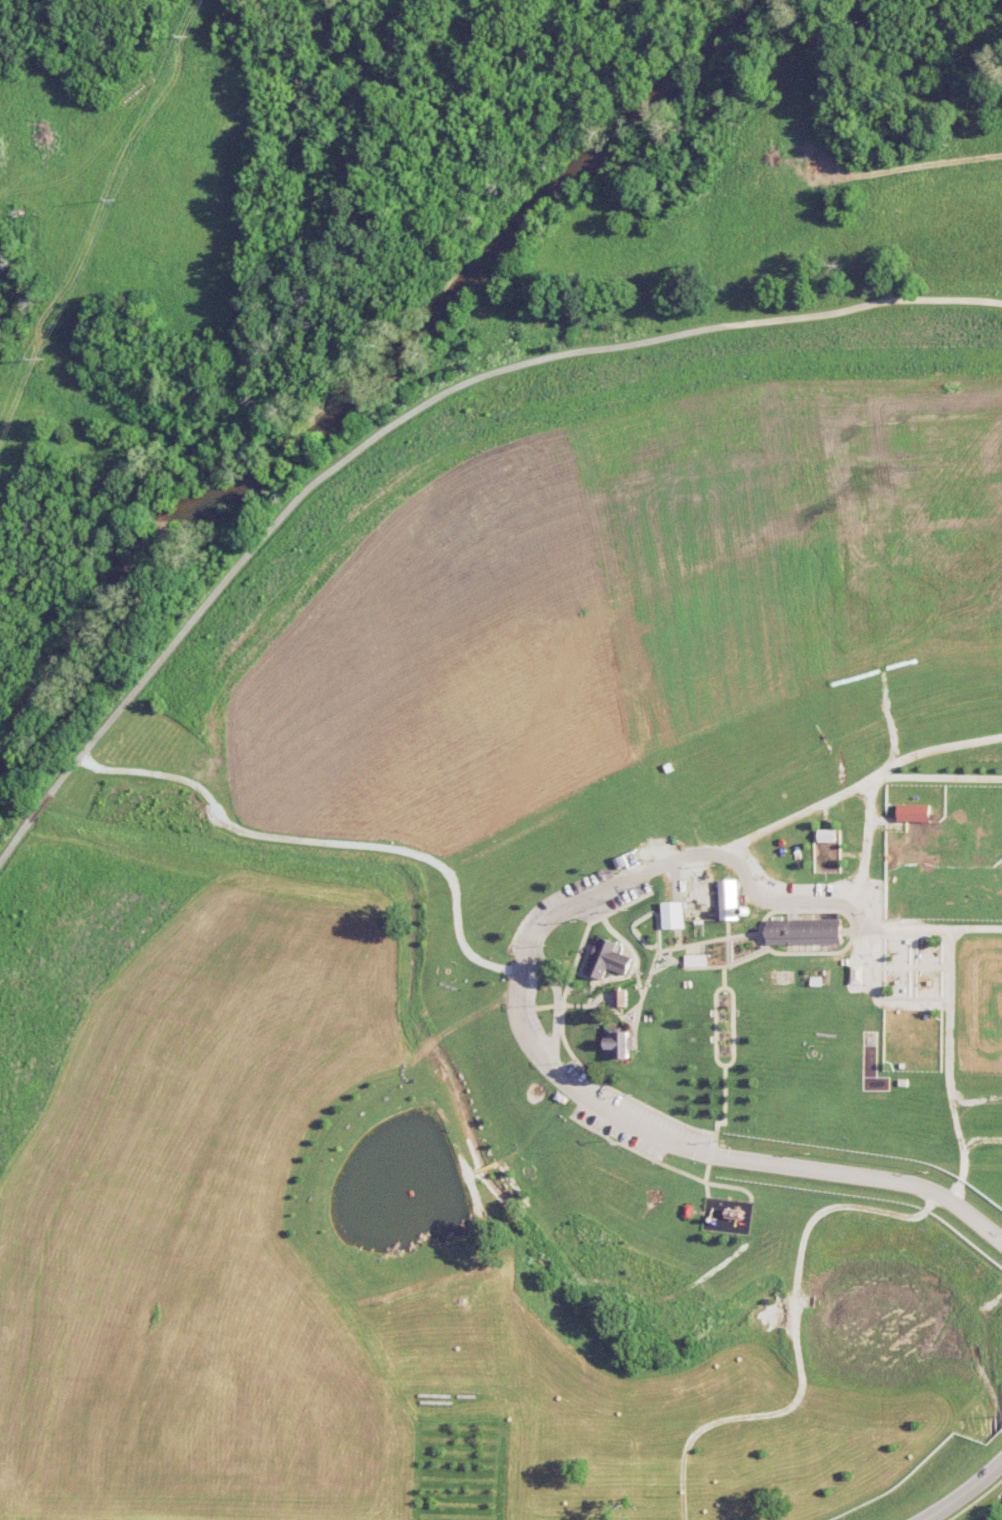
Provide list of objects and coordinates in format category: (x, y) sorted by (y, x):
river: (374, 376)
road: (431, 400)
road: (935, 749)
building: (914, 812)
road: (781, 822)
building: (826, 834)
road: (15, 841)
road: (325, 841)
road: (865, 856)
park: (556, 888)
parking lot: (808, 889)
building: (730, 901)
road: (844, 914)
road: (645, 916)
building: (674, 916)
building: (806, 932)
road: (743, 934)
road: (678, 938)
road: (700, 941)
road: (727, 953)
road: (748, 956)
building: (608, 960)
building: (697, 961)
road: (668, 962)
road: (912, 965)
road: (913, 966)
road: (696, 967)
road: (592, 979)
road: (639, 984)
parking lot: (521, 995)
building: (622, 999)
road: (596, 1000)
road: (877, 1000)
road: (548, 1005)
road: (628, 1021)
road: (715, 1025)
road: (562, 1035)
road: (634, 1038)
building: (621, 1044)
road: (732, 1052)
road: (544, 1061)
road: (947, 1066)
road: (975, 1099)
building: (810, 1109)
road: (980, 1137)
road: (636, 1150)
road: (708, 1164)
road: (732, 1186)
road: (631, 1284)
road: (798, 1340)
road: (963, 1493)

